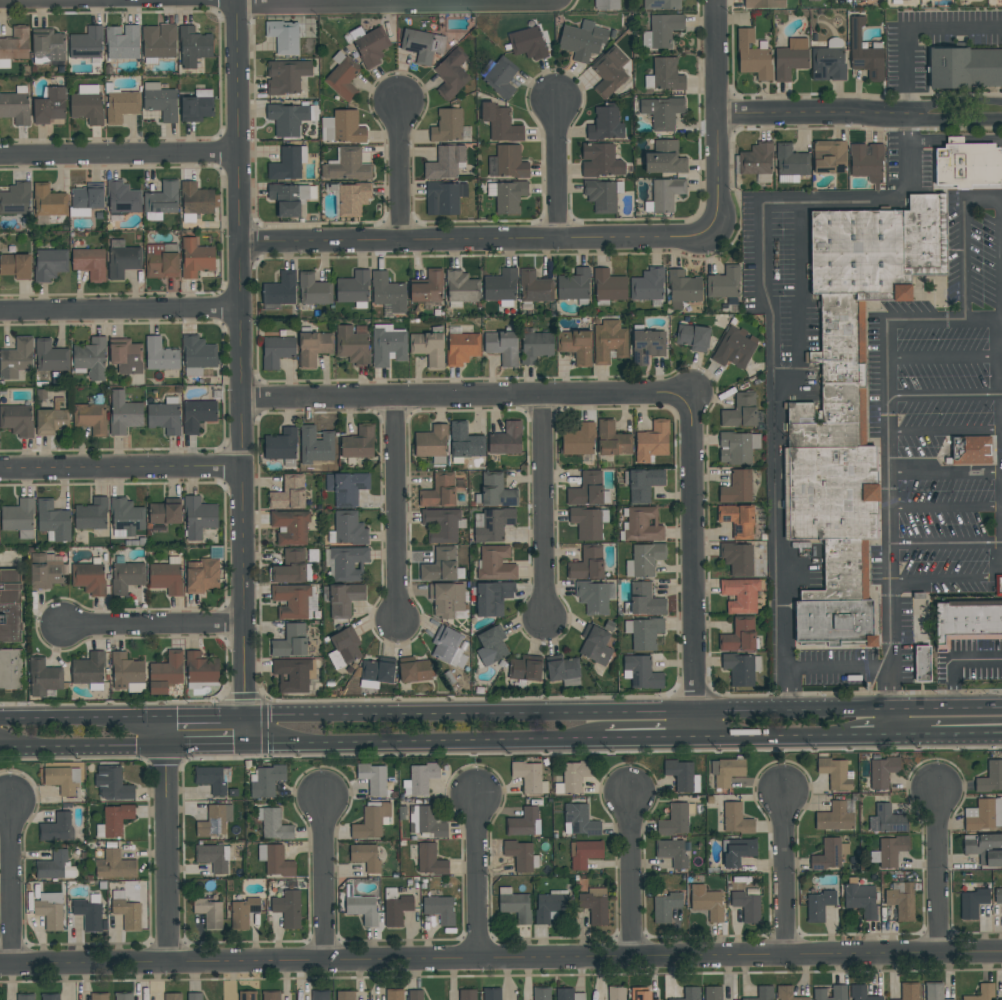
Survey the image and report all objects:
building: (867, 0)
road: (118, 1)
road: (383, 2)
building: (661, 4)
building: (764, 4)
building: (607, 5)
road: (911, 28)
building: (664, 30)
building: (284, 36)
building: (583, 40)
building: (158, 41)
building: (122, 42)
building: (834, 42)
building: (527, 43)
building: (86, 44)
building: (422, 45)
building: (371, 46)
building: (14, 47)
building: (48, 47)
building: (193, 47)
building: (864, 52)
building: (752, 56)
building: (790, 59)
building: (827, 64)
building: (965, 67)
building: (610, 72)
building: (451, 74)
building: (664, 75)
building: (286, 76)
building: (342, 77)
building: (500, 77)
building: (160, 101)
road: (960, 102)
building: (87, 104)
building: (15, 106)
building: (50, 106)
building: (121, 106)
building: (197, 107)
building: (662, 112)
road: (716, 114)
road: (819, 114)
building: (287, 119)
road: (960, 122)
building: (500, 124)
building: (605, 125)
building: (447, 126)
building: (342, 127)
road: (954, 135)
road: (957, 141)
road: (120, 155)
building: (828, 157)
building: (665, 159)
building: (756, 160)
building: (790, 160)
building: (600, 161)
building: (445, 162)
building: (865, 162)
building: (507, 163)
building: (288, 164)
building: (347, 166)
building: (968, 166)
road: (558, 167)
road: (402, 172)
road: (939, 188)
building: (666, 194)
building: (603, 195)
building: (507, 196)
building: (123, 198)
building: (444, 198)
building: (14, 199)
building: (196, 199)
building: (352, 199)
building: (85, 200)
building: (48, 201)
building: (161, 201)
road: (478, 239)
road: (965, 243)
building: (196, 258)
building: (122, 259)
building: (89, 263)
building: (160, 263)
building: (50, 264)
building: (16, 266)
building: (724, 283)
building: (574, 285)
building: (647, 285)
building: (500, 286)
building: (608, 286)
building: (427, 287)
building: (462, 287)
building: (535, 287)
building: (353, 289)
building: (683, 289)
building: (280, 290)
building: (313, 290)
building: (388, 293)
road: (121, 312)
road: (243, 313)
building: (693, 338)
building: (609, 341)
road: (773, 343)
building: (352, 346)
building: (388, 346)
building: (575, 346)
building: (313, 347)
building: (502, 347)
building: (536, 347)
building: (428, 348)
building: (462, 348)
building: (735, 348)
building: (276, 351)
building: (160, 355)
building: (198, 355)
building: (126, 356)
building: (50, 357)
building: (16, 359)
building: (91, 359)
road: (945, 359)
road: (945, 395)
road: (467, 398)
building: (849, 404)
building: (740, 411)
building: (124, 413)
building: (198, 415)
building: (164, 416)
building: (90, 418)
building: (17, 420)
building: (50, 421)
road: (945, 431)
building: (506, 440)
building: (579, 440)
building: (613, 440)
building: (431, 442)
building: (465, 442)
building: (652, 442)
building: (358, 444)
building: (281, 445)
building: (316, 445)
building: (737, 447)
building: (970, 450)
road: (888, 459)
road: (122, 472)
road: (945, 473)
building: (643, 485)
building: (347, 488)
building: (737, 488)
building: (587, 490)
building: (440, 491)
building: (496, 491)
building: (289, 493)
road: (945, 507)
road: (396, 510)
road: (544, 511)
building: (165, 512)
building: (91, 515)
building: (199, 517)
building: (19, 518)
building: (126, 518)
building: (738, 521)
building: (53, 522)
building: (588, 523)
building: (442, 525)
building: (494, 525)
building: (643, 525)
building: (291, 527)
building: (347, 529)
road: (946, 543)
building: (738, 559)
building: (644, 560)
building: (348, 563)
building: (495, 564)
building: (587, 564)
building: (440, 566)
building: (290, 568)
road: (696, 568)
building: (46, 571)
road: (994, 574)
building: (202, 575)
building: (126, 577)
building: (88, 578)
building: (166, 578)
road: (938, 578)
building: (998, 586)
building: (740, 595)
building: (595, 597)
building: (492, 598)
building: (343, 599)
building: (447, 600)
building: (645, 600)
building: (291, 601)
building: (966, 623)
road: (154, 627)
building: (644, 633)
building: (739, 636)
building: (291, 642)
building: (345, 644)
building: (595, 645)
building: (491, 646)
building: (448, 647)
building: (922, 664)
road: (954, 667)
building: (169, 668)
building: (201, 668)
building: (526, 668)
building: (563, 668)
road: (838, 668)
building: (10, 669)
building: (741, 669)
building: (414, 670)
building: (89, 671)
building: (377, 671)
road: (248, 672)
building: (642, 672)
building: (127, 673)
building: (293, 675)
building: (43, 678)
building: (158, 688)
road: (789, 706)
road: (474, 713)
traffic signals: (168, 716)
road: (209, 716)
road: (84, 717)
traffic signals: (250, 717)
road: (941, 717)
road: (168, 730)
road: (250, 730)
road: (791, 735)
road: (652, 738)
road: (428, 740)
road: (209, 743)
traffic signals: (251, 743)
traffic signals: (168, 744)
road: (84, 745)
building: (726, 771)
building: (882, 772)
building: (835, 773)
building: (575, 775)
building: (682, 775)
building: (527, 776)
building: (990, 777)
building: (210, 778)
building: (373, 778)
building: (419, 778)
building: (62, 779)
building: (265, 780)
building: (111, 783)
building: (984, 814)
building: (835, 816)
building: (676, 819)
building: (736, 819)
building: (886, 819)
building: (113, 820)
building: (214, 820)
building: (370, 820)
building: (579, 820)
building: (427, 821)
building: (524, 822)
building: (273, 824)
building: (57, 827)
building: (984, 848)
building: (736, 851)
building: (888, 851)
building: (671, 852)
building: (583, 853)
road: (168, 854)
building: (829, 854)
building: (520, 855)
building: (367, 856)
building: (213, 857)
building: (274, 860)
building: (429, 860)
building: (114, 865)
building: (55, 866)
road: (938, 870)
road: (787, 872)
road: (479, 878)
road: (630, 878)
road: (324, 881)
road: (10, 883)
building: (391, 893)
building: (998, 896)
building: (901, 899)
building: (860, 900)
building: (706, 901)
building: (972, 902)
building: (549, 904)
building: (594, 904)
building: (514, 905)
building: (746, 905)
building: (817, 905)
building: (664, 906)
building: (287, 908)
building: (439, 908)
building: (362, 909)
building: (49, 910)
building: (396, 910)
building: (209, 912)
building: (242, 912)
building: (87, 913)
building: (127, 913)
road: (501, 959)
building: (908, 991)
building: (933, 991)
building: (981, 992)
building: (542, 993)
building: (615, 993)
building: (639, 993)
building: (712, 993)
building: (761, 993)
building: (861, 993)
building: (491, 994)
building: (564, 994)
building: (688, 994)
building: (787, 994)
building: (839, 994)
building: (320, 995)
building: (345, 995)
building: (393, 995)
building: (414, 995)
building: (467, 995)
building: (25, 996)
building: (123, 996)
building: (173, 996)
building: (195, 996)
building: (247, 996)
building: (270, 996)
building: (50, 997)
building: (99, 997)
building: (1000, 998)

